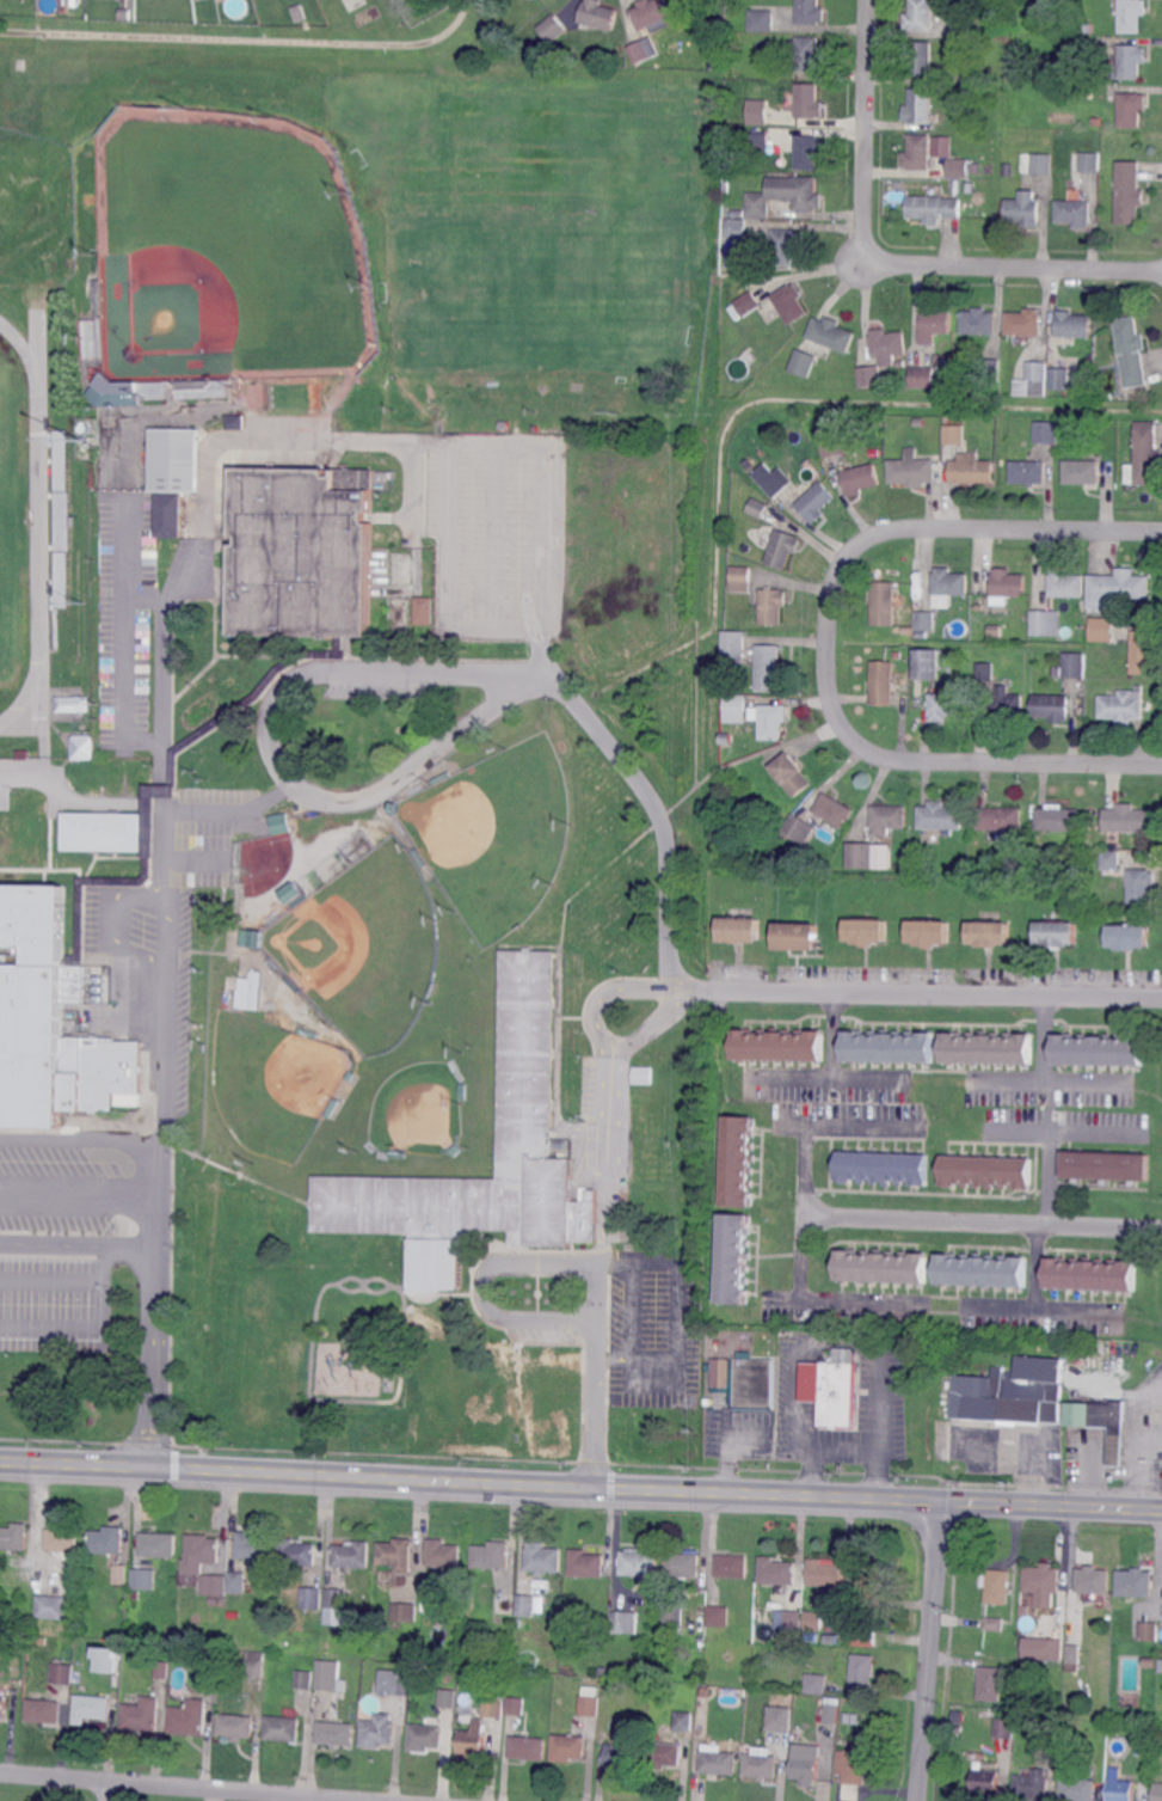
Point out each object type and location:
building: (493, 10)
building: (651, 12)
building: (811, 12)
building: (300, 13)
building: (127, 14)
building: (598, 14)
building: (920, 16)
building: (1130, 16)
building: (762, 19)
building: (553, 27)
building: (963, 29)
building: (1086, 29)
building: (644, 49)
building: (807, 53)
building: (920, 59)
building: (1130, 62)
building: (1053, 75)
building: (970, 76)
building: (809, 100)
building: (917, 108)
building: (1129, 110)
building: (757, 114)
building: (991, 114)
building: (761, 140)
building: (939, 145)
building: (809, 149)
building: (917, 151)
building: (1040, 163)
building: (1088, 163)
building: (957, 169)
building: (1008, 170)
building: (726, 186)
building: (1129, 192)
building: (783, 195)
building: (932, 207)
building: (1025, 209)
building: (738, 212)
building: (1074, 213)
building: (736, 227)
building: (783, 246)
park: (227, 249)
road: (885, 263)
building: (96, 295)
building: (788, 302)
building: (745, 306)
building: (977, 321)
building: (1025, 323)
building: (935, 324)
building: (1071, 325)
building: (832, 333)
building: (890, 341)
building: (1130, 351)
building: (804, 362)
building: (989, 369)
building: (869, 374)
building: (922, 376)
building: (1033, 378)
building: (1059, 379)
building: (112, 391)
building: (920, 421)
building: (235, 423)
building: (488, 429)
building: (953, 429)
building: (1046, 431)
road: (475, 442)
building: (835, 443)
building: (1145, 455)
building: (174, 458)
building: (914, 470)
building: (971, 470)
building: (1027, 470)
building: (1083, 471)
building: (773, 478)
building: (862, 478)
building: (818, 502)
building: (758, 507)
building: (168, 515)
park: (12, 525)
road: (1006, 528)
building: (783, 547)
building: (303, 551)
building: (743, 578)
building: (1035, 581)
building: (948, 582)
building: (1009, 582)
building: (1068, 583)
building: (1117, 584)
road: (167, 604)
building: (886, 604)
building: (1084, 605)
building: (773, 607)
building: (979, 608)
building: (425, 611)
building: (400, 613)
building: (924, 621)
building: (1043, 621)
building: (1103, 629)
building: (994, 630)
road: (829, 643)
building: (736, 647)
building: (1144, 653)
building: (1074, 664)
road: (345, 666)
building: (927, 666)
building: (770, 667)
building: (988, 672)
building: (881, 684)
building: (1139, 686)
building: (73, 704)
building: (1004, 704)
building: (947, 706)
building: (1125, 706)
building: (1053, 707)
building: (737, 709)
building: (773, 722)
building: (726, 740)
building: (82, 748)
building: (23, 754)
road: (161, 758)
road: (1003, 762)
building: (791, 774)
building: (441, 777)
road: (150, 789)
road: (64, 800)
road: (228, 807)
building: (394, 807)
building: (835, 809)
building: (942, 816)
building: (890, 817)
building: (1000, 819)
building: (1059, 819)
building: (1130, 820)
building: (281, 823)
building: (800, 828)
building: (105, 831)
park: (494, 833)
building: (1032, 841)
building: (1020, 850)
building: (862, 856)
building: (422, 857)
building: (1112, 860)
building: (1141, 887)
building: (296, 894)
building: (740, 927)
building: (871, 930)
building: (932, 931)
building: (801, 932)
building: (1058, 933)
building: (990, 935)
building: (251, 937)
building: (1130, 937)
park: (364, 945)
building: (294, 984)
road: (617, 987)
building: (250, 991)
road: (933, 993)
building: (51, 1019)
road: (654, 1021)
building: (307, 1031)
building: (780, 1047)
building: (890, 1048)
building: (988, 1049)
building: (1099, 1052)
parking lot: (170, 1060)
building: (644, 1074)
building: (351, 1076)
park: (273, 1082)
building: (462, 1092)
road: (838, 1097)
road: (1053, 1104)
building: (330, 1107)
road: (1049, 1109)
road: (831, 1111)
building: (525, 1125)
road: (80, 1144)
building: (455, 1150)
building: (396, 1153)
building: (738, 1162)
building: (1106, 1165)
building: (884, 1169)
building: (988, 1172)
road: (80, 1196)
road: (979, 1221)
road: (79, 1239)
building: (733, 1258)
building: (883, 1268)
road: (597, 1272)
building: (980, 1272)
road: (676, 1273)
building: (1090, 1275)
road: (478, 1282)
road: (811, 1301)
road: (1032, 1303)
road: (997, 1310)
road: (93, 1325)
road: (635, 1355)
building: (755, 1384)
building: (841, 1387)
building: (1012, 1395)
building: (1100, 1421)
building: (207, 1441)
road: (97, 1463)
road: (381, 1476)
road: (732, 1493)
road: (912, 1501)
road: (1046, 1503)
road: (37, 1524)
building: (14, 1536)
building: (62, 1539)
building: (107, 1539)
building: (158, 1544)
building: (254, 1545)
building: (201, 1552)
building: (297, 1552)
building: (351, 1554)
building: (443, 1554)
building: (395, 1555)
building: (491, 1555)
building: (542, 1558)
building: (639, 1562)
building: (683, 1563)
building: (585, 1564)
building: (732, 1566)
building: (777, 1572)
building: (119, 1573)
building: (825, 1573)
building: (145, 1579)
building: (871, 1580)
building: (1093, 1580)
building: (235, 1582)
building: (1136, 1582)
building: (1044, 1583)
building: (214, 1586)
building: (997, 1587)
building: (336, 1598)
building: (311, 1599)
building: (214, 1600)
building: (505, 1605)
building: (525, 1605)
building: (51, 1606)
building: (405, 1611)
building: (672, 1613)
building: (719, 1616)
building: (788, 1621)
building: (623, 1622)
building: (813, 1622)
building: (992, 1624)
building: (1150, 1632)
building: (866, 1636)
building: (810, 1637)
building: (1044, 1648)
road: (930, 1650)
building: (1074, 1653)
building: (109, 1659)
building: (208, 1661)
building: (1150, 1661)
building: (1160, 1666)
building: (1021, 1667)
building: (162, 1668)
building: (254, 1668)
building: (863, 1671)
building: (603, 1672)
building: (61, 1674)
building: (328, 1674)
building: (303, 1680)
building: (393, 1683)
building: (816, 1684)
building: (989, 1684)
building: (445, 1698)
building: (516, 1705)
building: (2, 1707)
building: (589, 1707)
building: (92, 1708)
building: (493, 1708)
building: (44, 1710)
building: (831, 1711)
building: (142, 1714)
building: (189, 1717)
building: (777, 1717)
building: (450, 1719)
building: (846, 1719)
building: (854, 1719)
building: (684, 1721)
building: (235, 1726)
building: (1003, 1726)
building: (283, 1728)
building: (376, 1732)
building: (337, 1733)
building: (797, 1734)
building: (425, 1736)
building: (474, 1740)
building: (1160, 1745)
building: (1145, 1746)
building: (528, 1747)
building: (568, 1747)
building: (1052, 1750)
building: (625, 1756)
building: (665, 1756)
building: (720, 1763)
building: (761, 1764)
building: (806, 1764)
building: (851, 1772)
building: (985, 1782)
building: (1032, 1785)
road: (180, 1787)
building: (1078, 1789)
building: (1120, 1789)
road: (110, 1791)
building: (1158, 1791)

